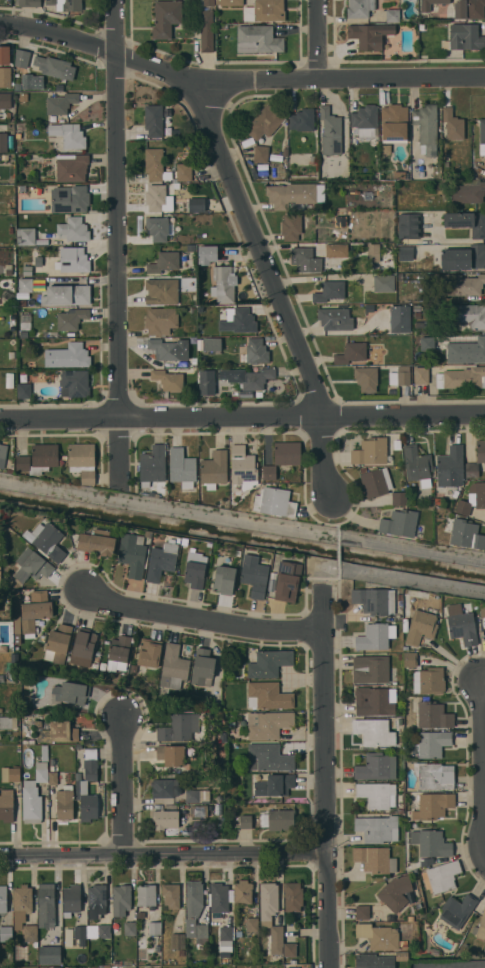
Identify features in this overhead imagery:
building: (27, 2)
building: (211, 2)
building: (229, 2)
building: (66, 4)
building: (425, 7)
building: (359, 8)
building: (468, 9)
building: (265, 10)
building: (392, 15)
building: (165, 18)
building: (421, 26)
building: (206, 31)
building: (369, 35)
building: (464, 37)
building: (257, 39)
road: (318, 40)
building: (4, 55)
building: (21, 58)
building: (51, 66)
building: (5, 77)
building: (32, 81)
road: (237, 82)
building: (18, 87)
building: (5, 100)
building: (60, 103)
building: (22, 116)
building: (153, 120)
building: (302, 120)
building: (365, 120)
building: (265, 122)
building: (394, 123)
building: (452, 124)
building: (426, 128)
building: (330, 131)
building: (69, 135)
building: (482, 137)
building: (3, 142)
building: (18, 142)
building: (285, 151)
building: (261, 153)
building: (4, 157)
building: (186, 157)
building: (313, 158)
building: (154, 163)
building: (71, 167)
building: (184, 172)
building: (395, 174)
building: (176, 185)
building: (22, 188)
building: (7, 191)
building: (468, 191)
building: (291, 194)
building: (155, 197)
building: (70, 199)
building: (197, 205)
road: (120, 209)
building: (11, 210)
building: (340, 218)
building: (11, 219)
building: (467, 222)
building: (356, 223)
building: (371, 223)
building: (385, 223)
building: (292, 226)
building: (408, 226)
building: (158, 228)
building: (74, 229)
building: (25, 236)
building: (391, 245)
building: (190, 247)
building: (335, 249)
road: (262, 250)
building: (373, 252)
building: (206, 253)
building: (406, 253)
building: (463, 258)
building: (305, 259)
building: (73, 260)
building: (164, 262)
building: (27, 270)
building: (9, 272)
building: (384, 282)
building: (223, 284)
building: (463, 284)
building: (26, 285)
building: (161, 291)
building: (330, 291)
building: (66, 294)
building: (11, 302)
building: (22, 303)
building: (417, 308)
building: (417, 315)
building: (467, 316)
building: (71, 318)
building: (335, 318)
building: (400, 319)
building: (161, 320)
building: (25, 321)
building: (239, 321)
building: (423, 324)
building: (24, 334)
building: (212, 344)
building: (165, 349)
building: (476, 350)
building: (256, 351)
building: (351, 353)
building: (12, 355)
building: (67, 356)
building: (403, 375)
building: (421, 375)
building: (366, 378)
building: (392, 378)
building: (462, 378)
building: (9, 379)
building: (168, 379)
building: (383, 379)
building: (206, 381)
building: (255, 381)
building: (74, 383)
building: (24, 390)
road: (242, 419)
building: (3, 451)
building: (370, 451)
road: (122, 452)
building: (282, 457)
building: (39, 459)
road: (321, 459)
building: (477, 460)
building: (82, 461)
building: (417, 464)
building: (152, 465)
building: (243, 465)
building: (182, 467)
building: (451, 467)
building: (214, 469)
building: (466, 470)
building: (376, 482)
building: (399, 498)
building: (472, 499)
building: (274, 502)
building: (0, 510)
road: (242, 520)
building: (399, 523)
building: (148, 534)
building: (466, 534)
river: (242, 537)
building: (48, 541)
building: (97, 542)
building: (184, 545)
building: (238, 553)
building: (132, 554)
building: (162, 560)
building: (32, 565)
building: (195, 568)
building: (254, 575)
building: (273, 575)
building: (224, 579)
building: (287, 581)
building: (399, 597)
building: (375, 600)
building: (16, 606)
building: (483, 610)
building: (35, 611)
road: (204, 618)
building: (461, 624)
building: (421, 627)
building: (9, 631)
building: (16, 632)
building: (375, 636)
building: (42, 638)
building: (58, 643)
building: (83, 647)
building: (9, 648)
building: (149, 652)
building: (119, 653)
building: (410, 659)
building: (95, 661)
building: (270, 663)
building: (173, 667)
building: (203, 667)
building: (370, 669)
building: (1, 677)
building: (429, 681)
building: (69, 693)
building: (268, 696)
building: (374, 701)
building: (30, 711)
building: (22, 714)
building: (430, 715)
building: (8, 722)
building: (232, 723)
building: (38, 724)
building: (269, 724)
building: (179, 728)
building: (57, 731)
building: (374, 731)
building: (29, 742)
building: (433, 743)
building: (171, 755)
building: (269, 757)
building: (52, 760)
building: (376, 767)
building: (14, 773)
building: (434, 775)
building: (52, 778)
road: (327, 781)
building: (274, 785)
building: (82, 787)
road: (125, 787)
building: (165, 788)
building: (377, 794)
building: (34, 795)
building: (197, 795)
building: (65, 803)
building: (432, 806)
building: (6, 808)
building: (200, 811)
building: (166, 819)
building: (278, 820)
building: (246, 821)
building: (377, 828)
building: (184, 830)
building: (430, 842)
road: (164, 857)
building: (375, 859)
building: (420, 864)
building: (441, 876)
building: (243, 892)
building: (396, 892)
building: (171, 895)
building: (146, 896)
building: (219, 897)
building: (293, 897)
building: (194, 898)
building: (3, 899)
building: (121, 899)
building: (71, 900)
building: (97, 901)
building: (22, 902)
building: (47, 905)
building: (458, 910)
building: (362, 912)
building: (270, 917)
building: (411, 918)
building: (252, 924)
building: (130, 927)
building: (480, 927)
building: (155, 928)
building: (202, 930)
building: (92, 931)
building: (80, 932)
building: (104, 932)
building: (30, 933)
building: (6, 934)
building: (378, 936)
building: (226, 938)
building: (177, 941)
building: (403, 943)
building: (290, 949)
building: (435, 952)
building: (181, 953)
building: (50, 955)
building: (401, 956)
building: (374, 961)
building: (129, 967)
building: (293, 967)

